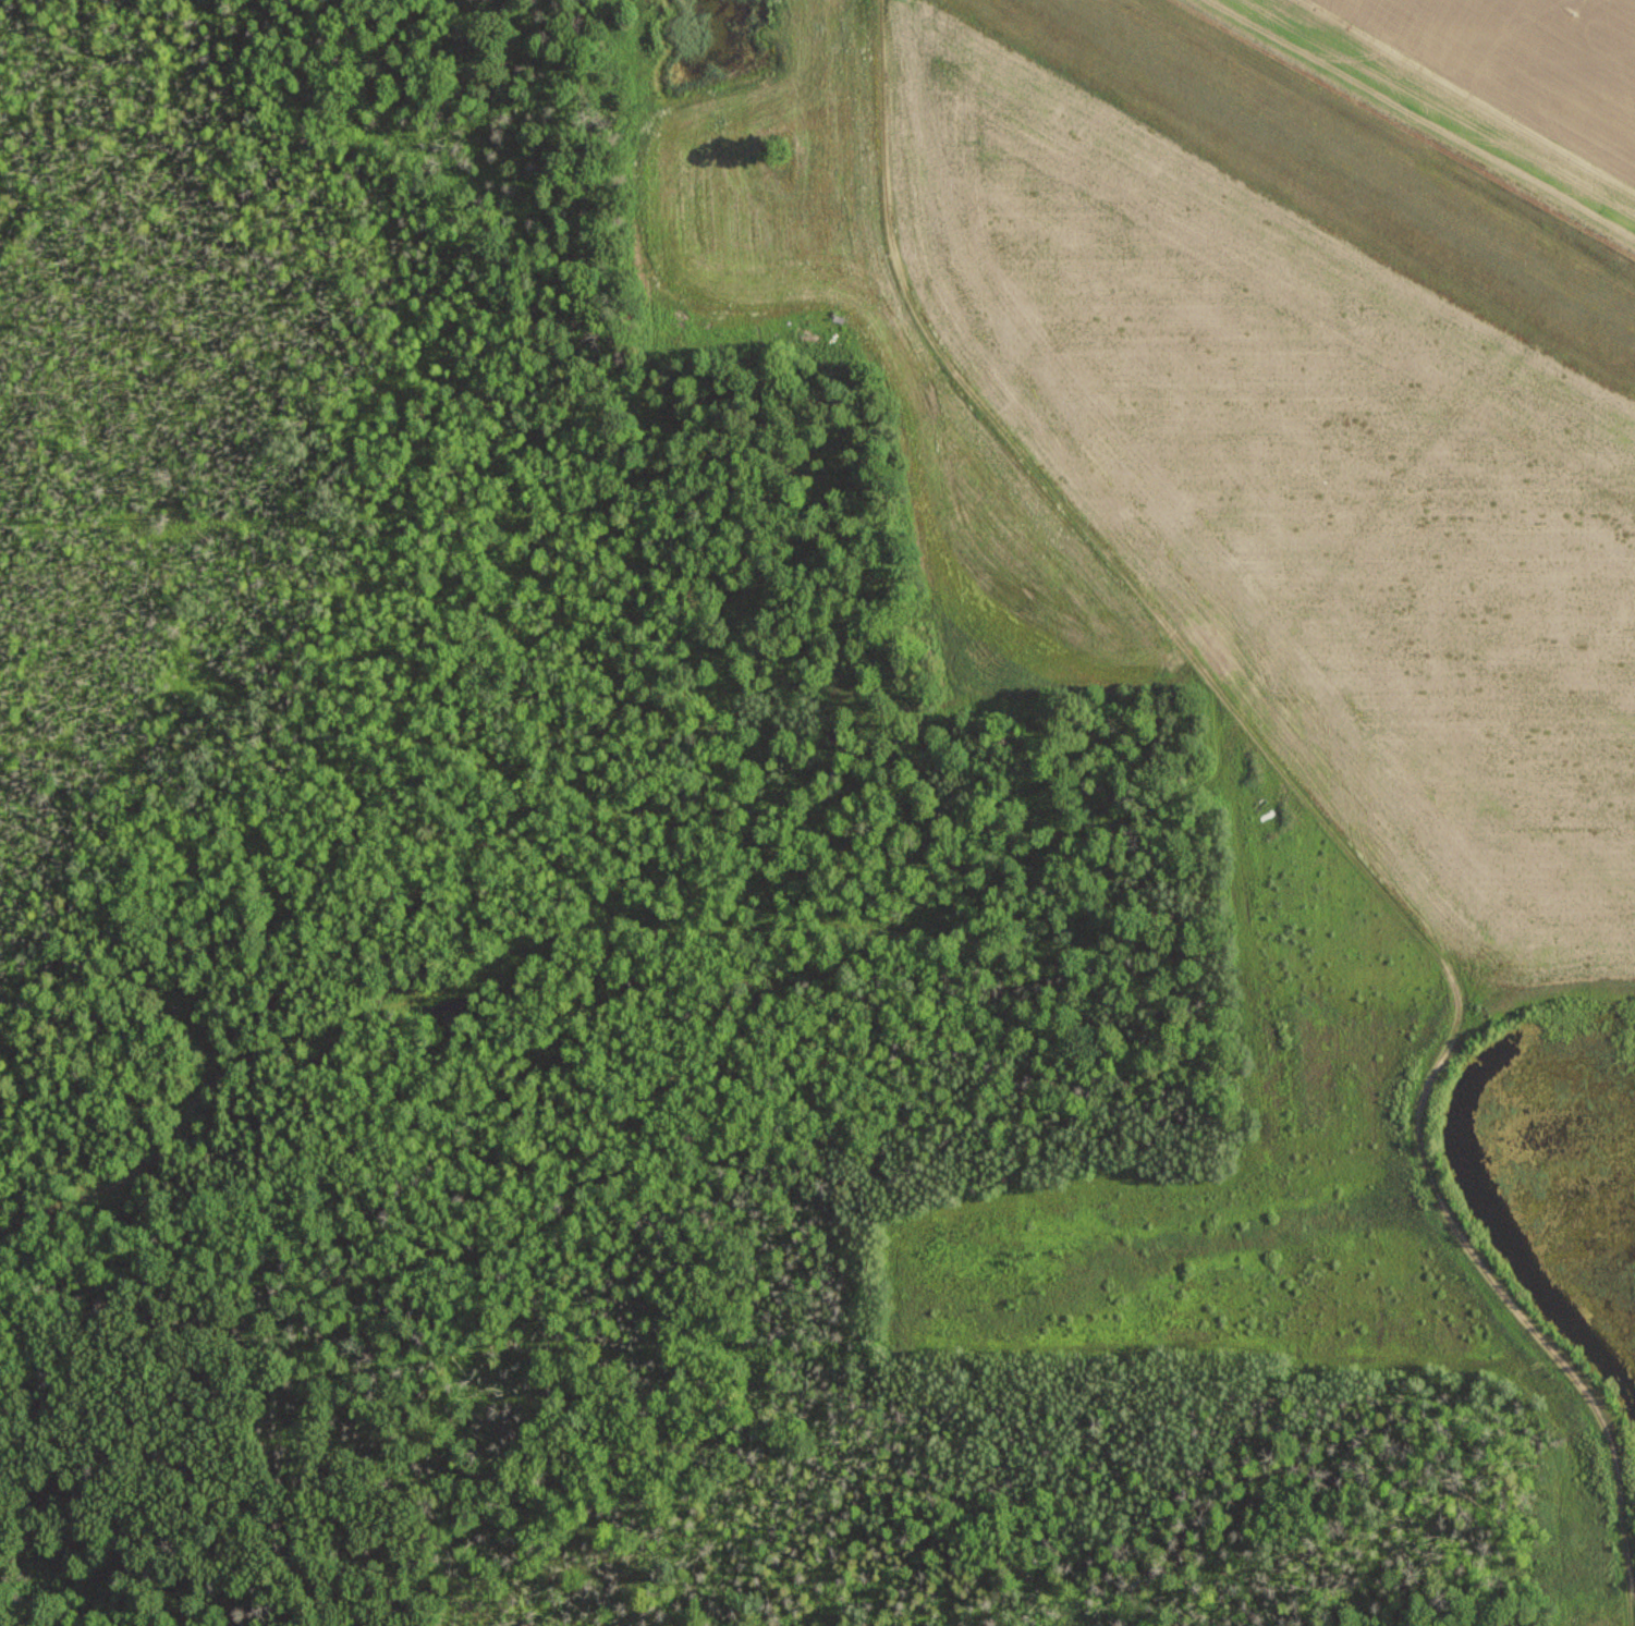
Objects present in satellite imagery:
airport runway: (1350, 163)
airport: (1258, 636)
road: (1304, 795)
road: (618, 910)
road: (1493, 951)

